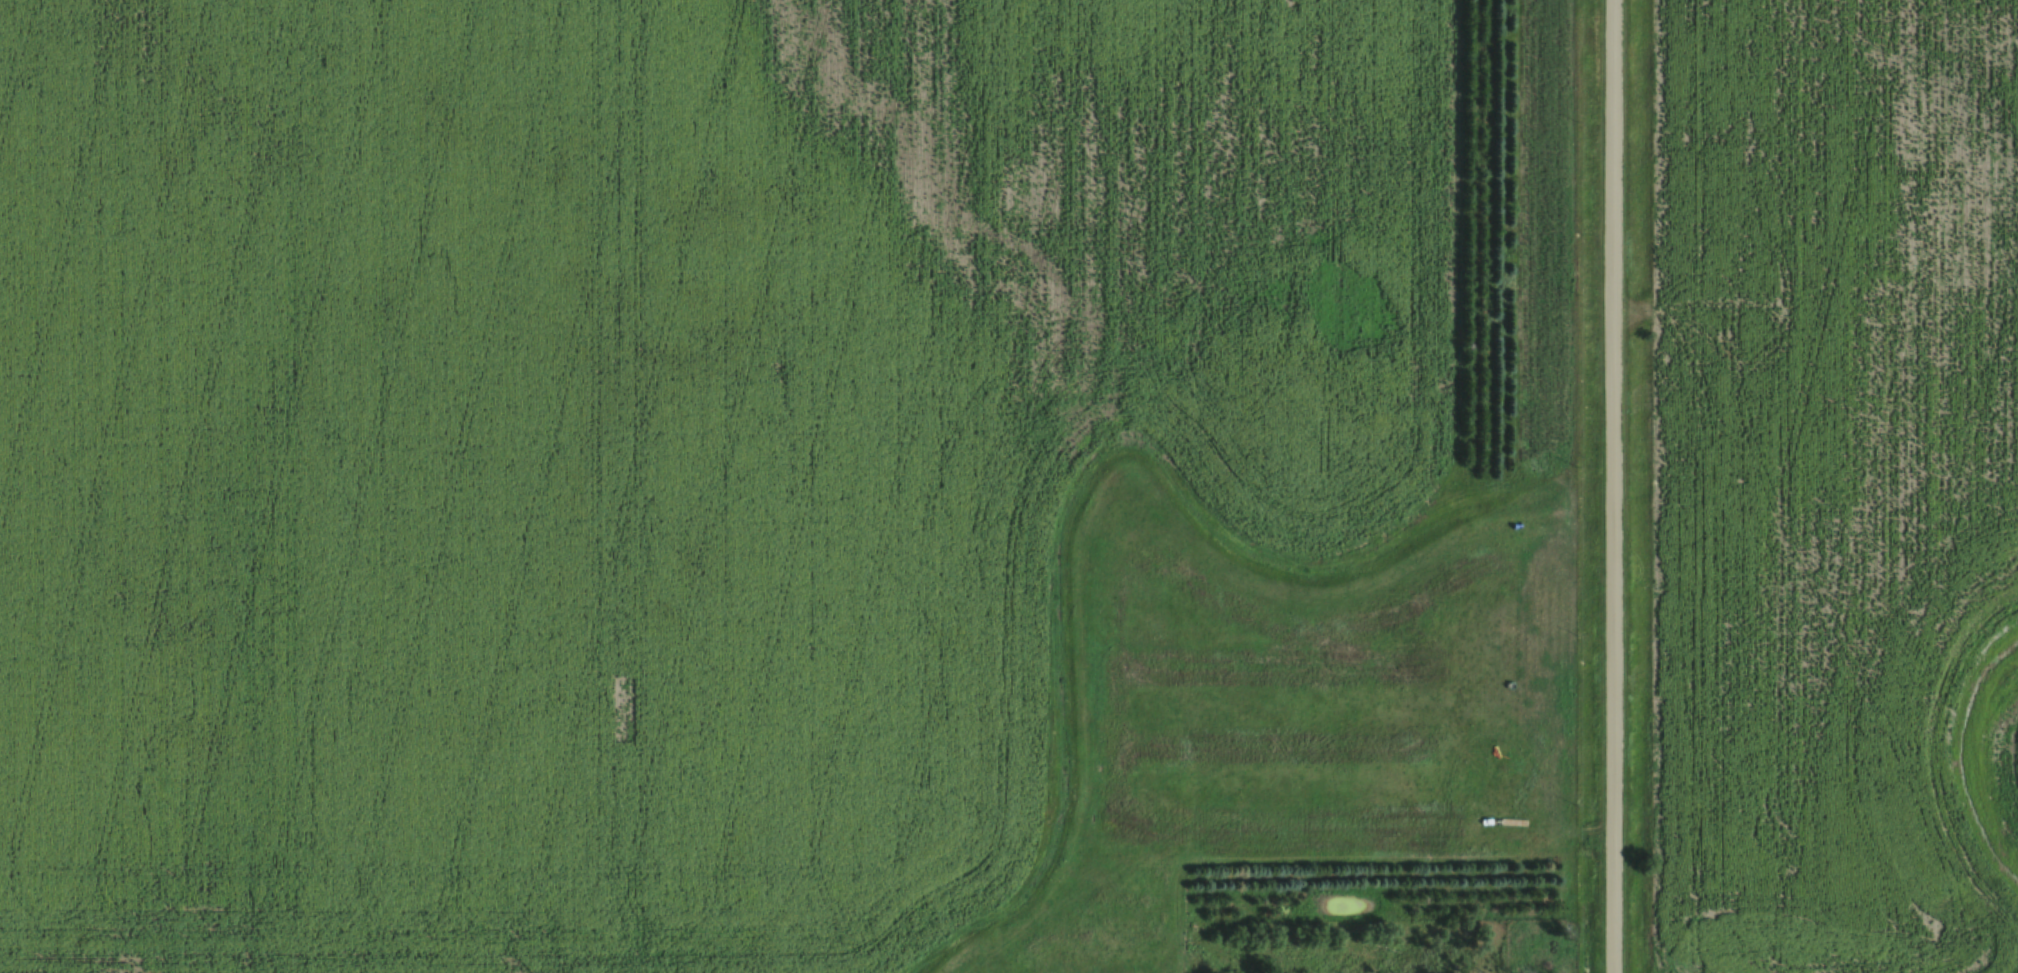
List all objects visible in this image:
road: (1612, 486)

